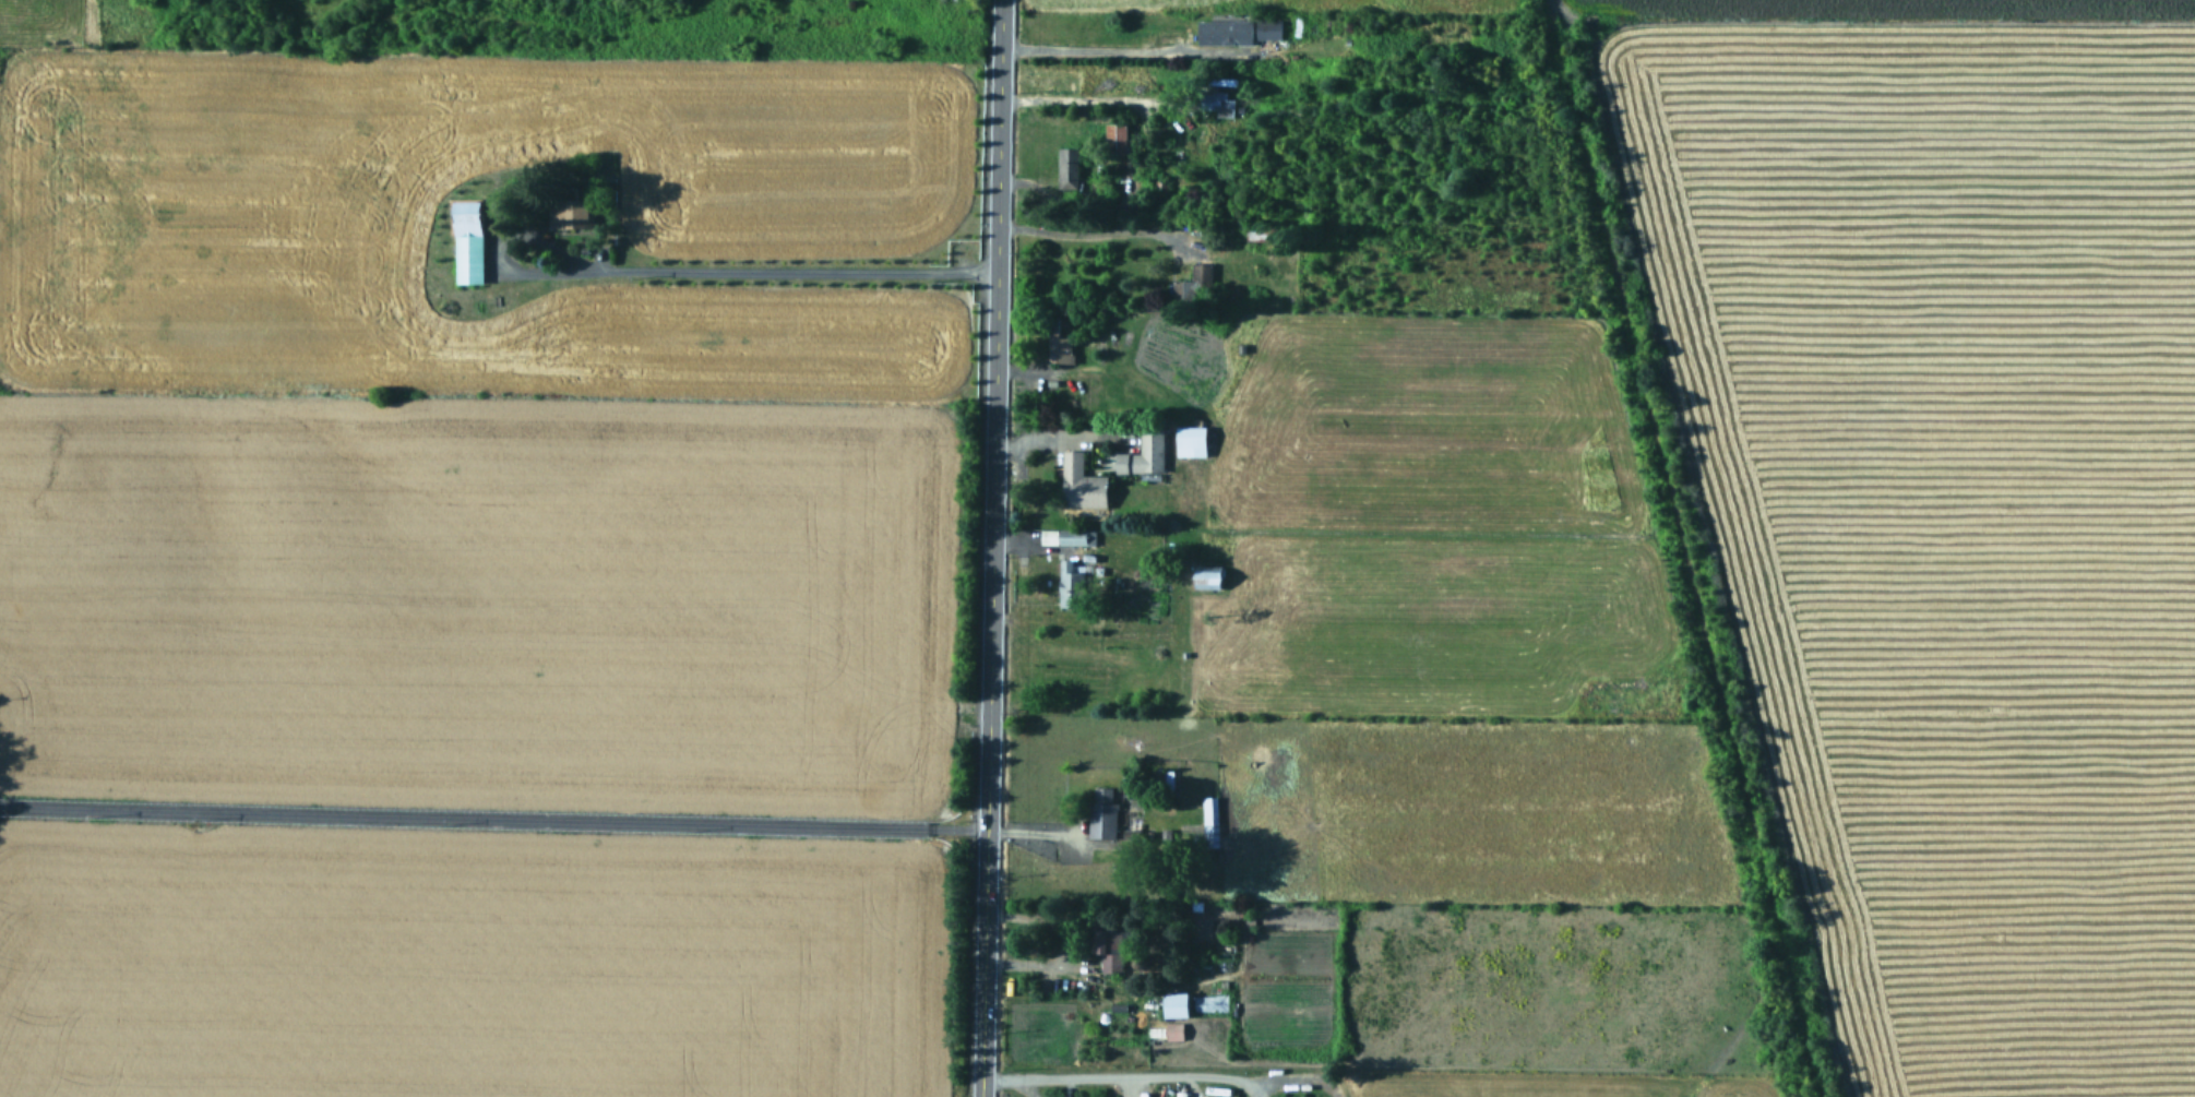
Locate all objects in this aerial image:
building: (945, 1)
building: (1269, 28)
building: (1224, 32)
road: (1104, 47)
road: (1085, 102)
building: (1215, 102)
building: (1114, 138)
building: (1066, 168)
building: (566, 212)
road: (1089, 230)
building: (1261, 231)
building: (464, 241)
road: (745, 271)
building: (1193, 285)
building: (1058, 344)
building: (1192, 441)
building: (1144, 453)
building: (1082, 484)
building: (1067, 537)
crop: (466, 546)
road: (991, 548)
building: (1209, 576)
building: (1070, 585)
crop: (1740, 598)
building: (1165, 780)
road: (492, 816)
building: (1209, 822)
building: (1097, 830)
road: (1033, 831)
building: (1106, 945)
building: (1177, 1004)
building: (1173, 1032)
road: (1122, 1080)

